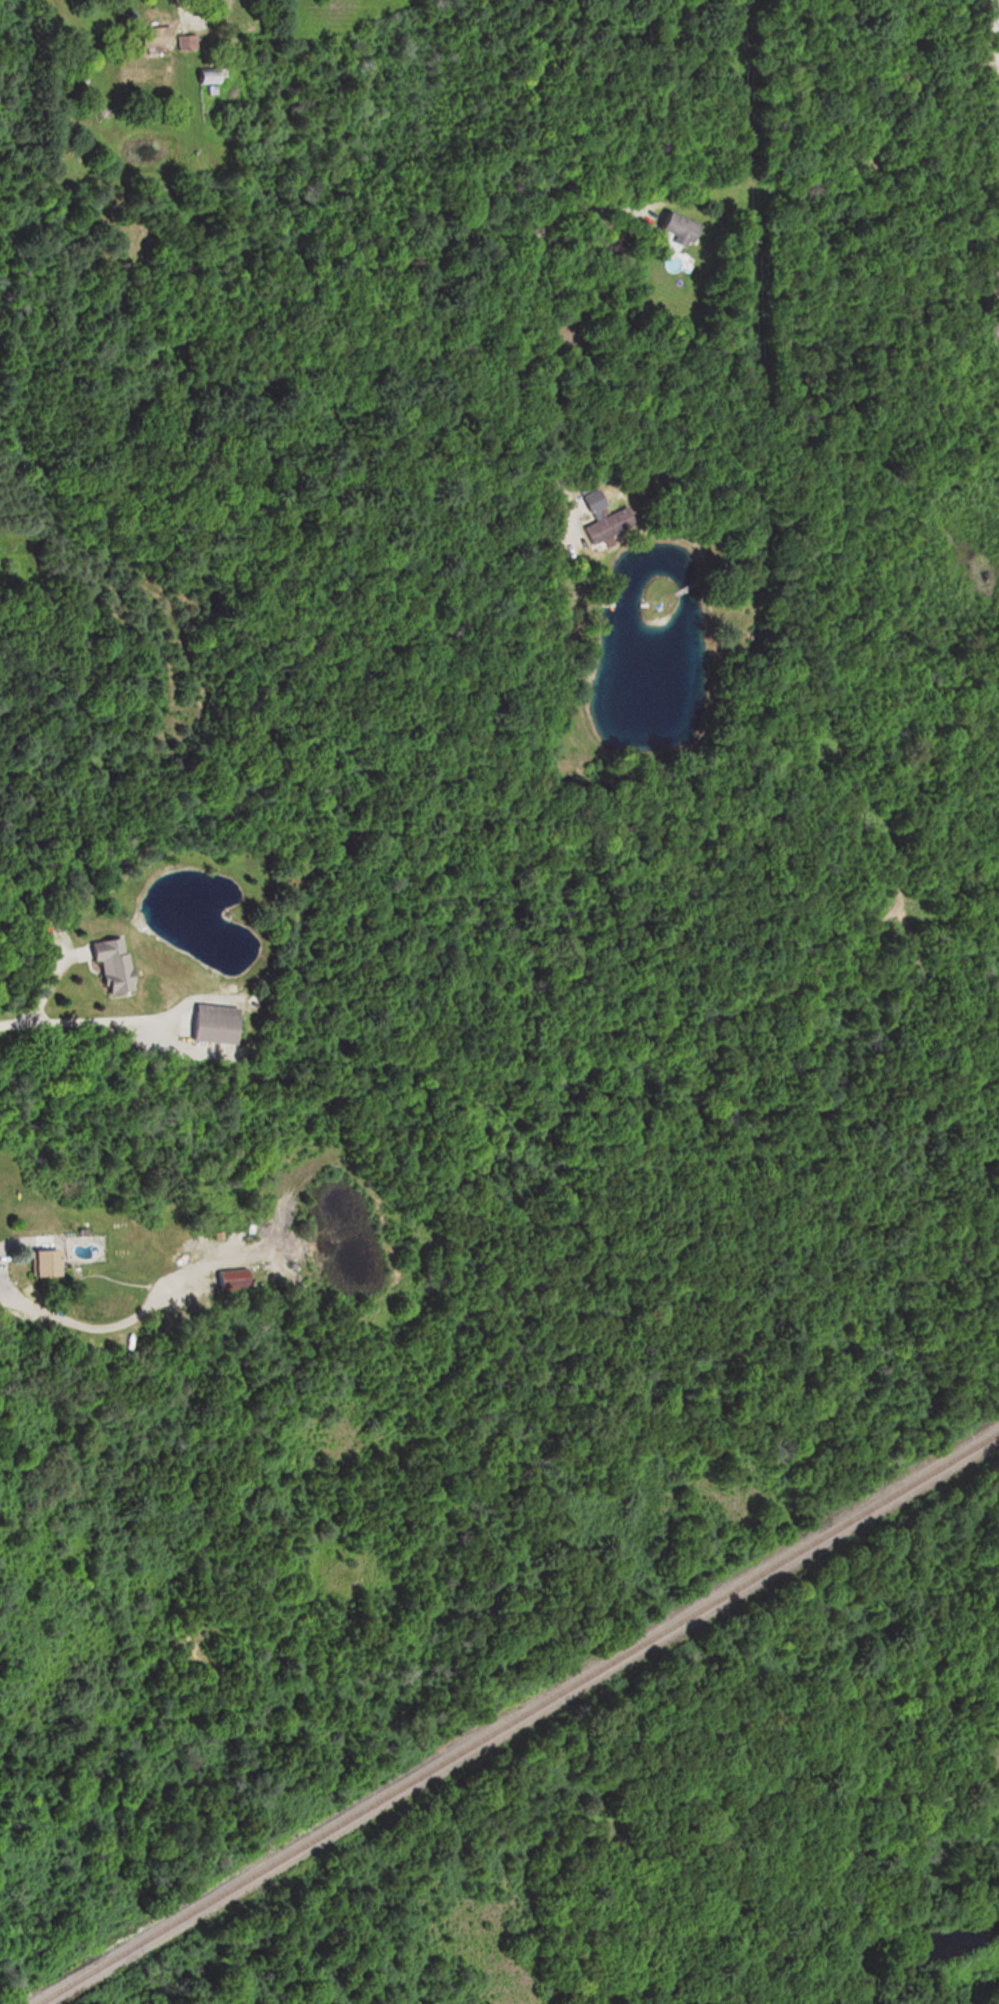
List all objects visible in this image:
road: (181, 7)
building: (149, 37)
building: (182, 43)
building: (199, 79)
building: (672, 228)
road: (553, 237)
building: (600, 520)
building: (108, 963)
road: (40, 999)
building: (212, 1024)
building: (39, 1262)
railway: (518, 1718)

